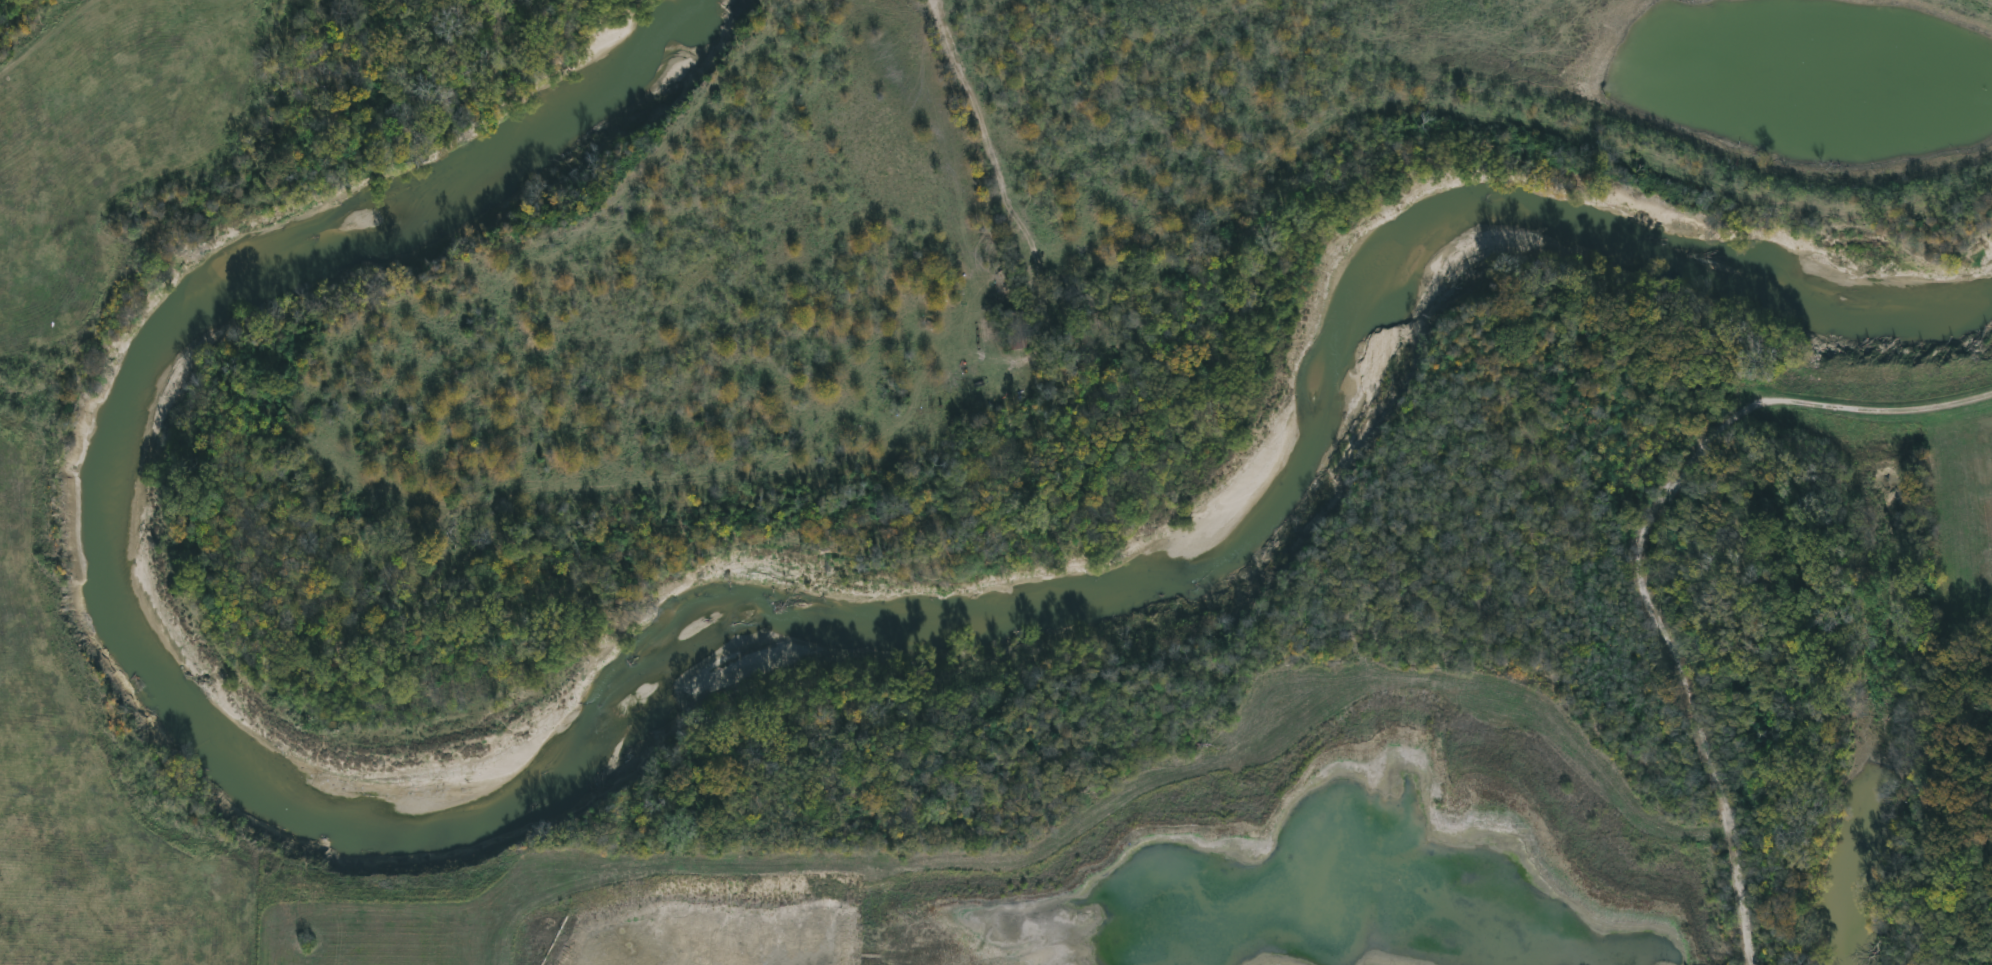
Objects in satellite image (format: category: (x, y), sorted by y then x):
road: (940, 24)
river: (665, 653)

